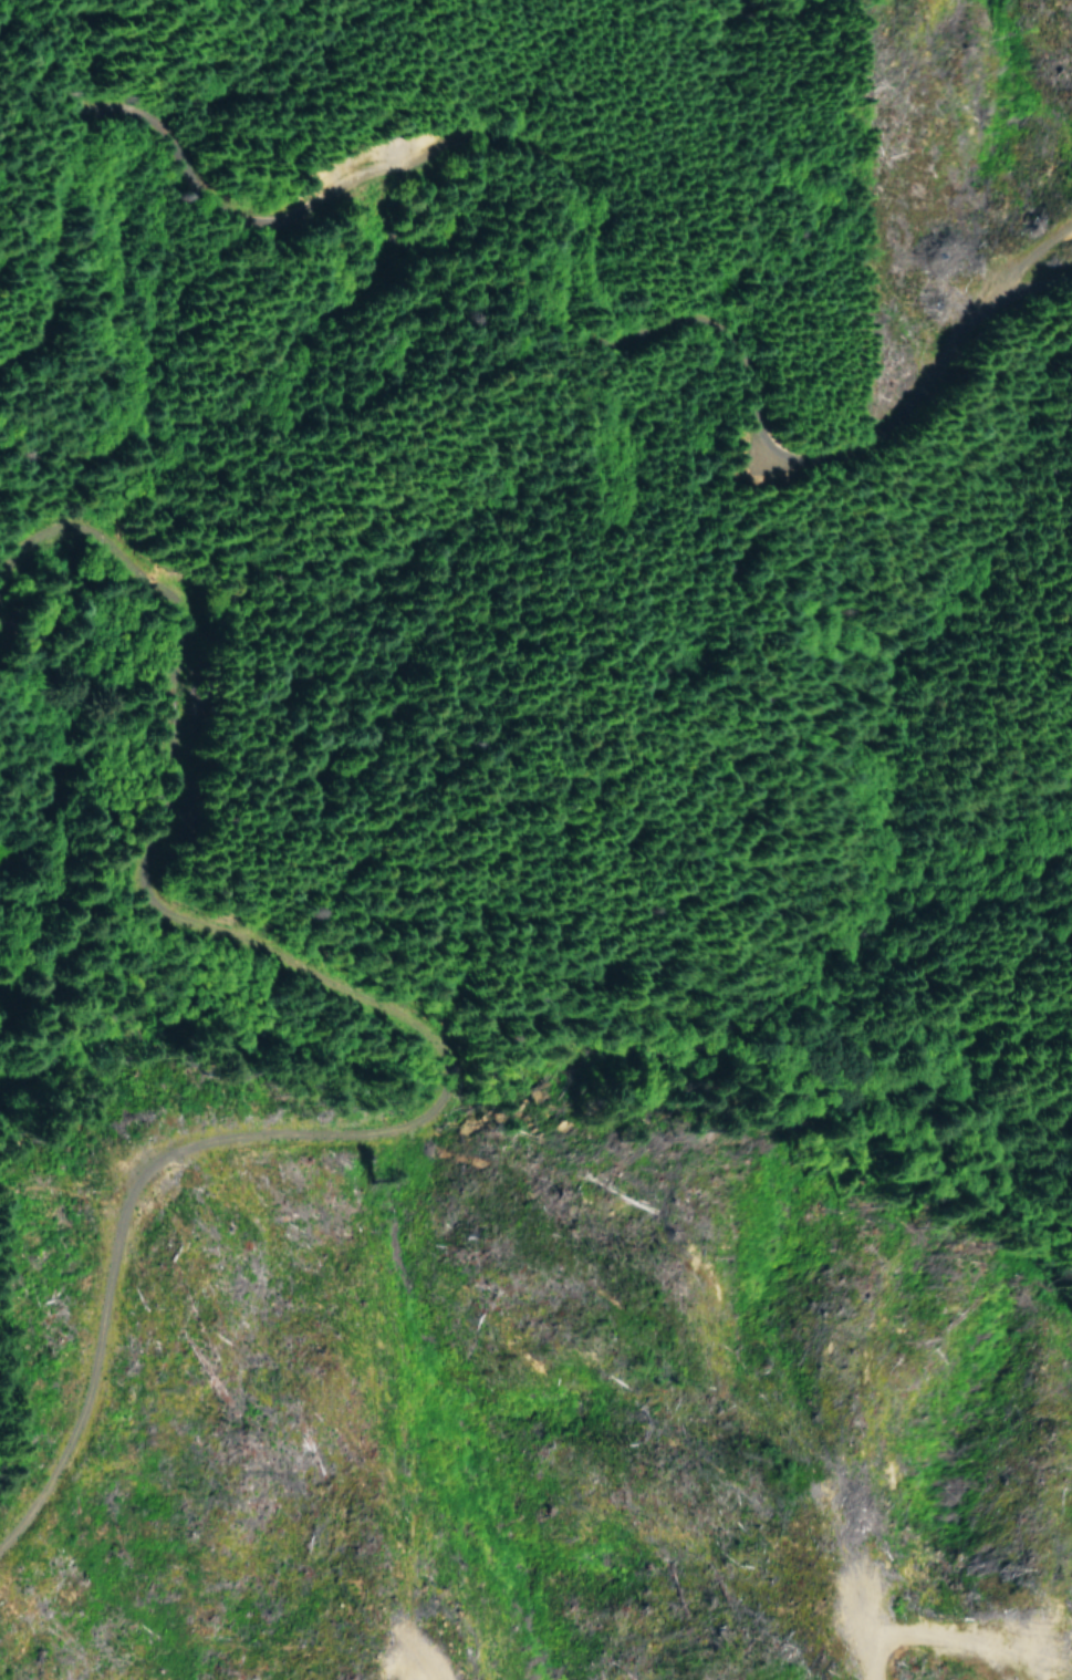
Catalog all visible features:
road: (549, 332)
road: (299, 1020)
road: (830, 1537)

